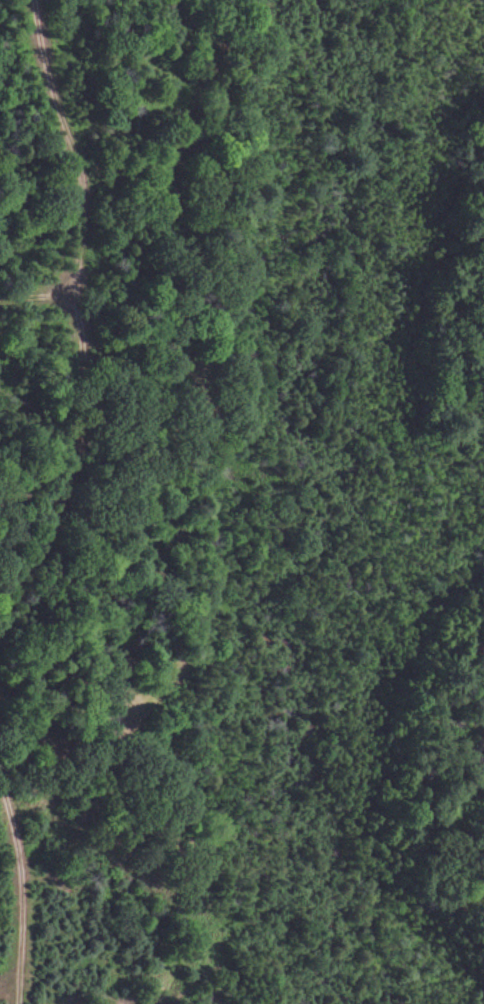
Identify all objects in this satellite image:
road: (77, 180)
road: (65, 462)
road: (26, 880)

